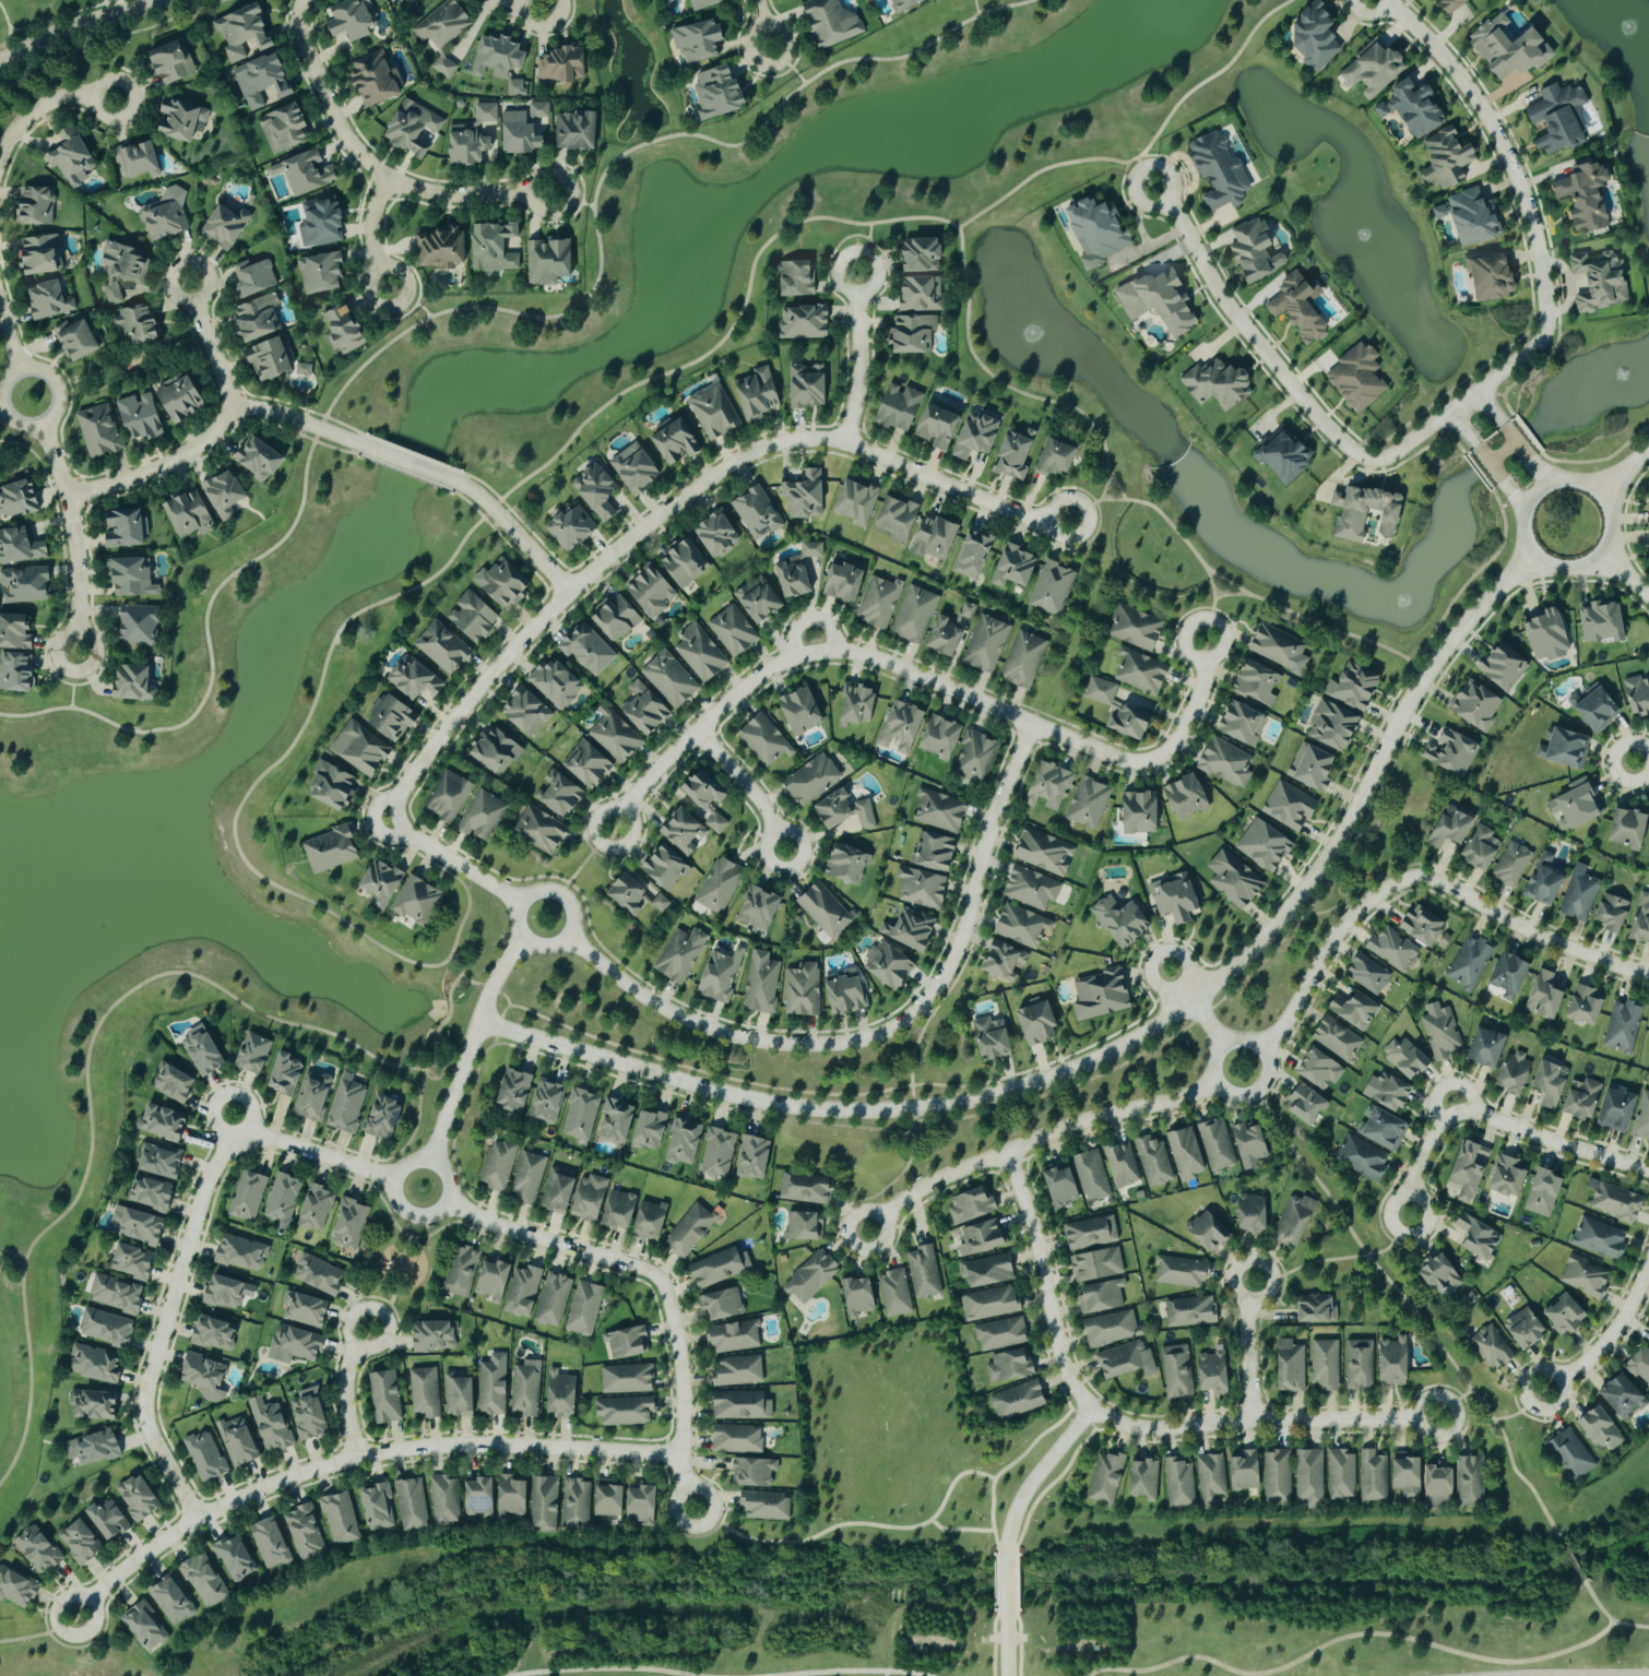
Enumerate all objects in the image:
building: (407, 0)
building: (704, 3)
building: (904, 3)
road: (519, 4)
building: (1454, 4)
road: (975, 7)
building: (352, 19)
building: (833, 22)
road: (762, 24)
road: (80, 25)
building: (244, 33)
building: (443, 33)
building: (1318, 37)
building: (699, 40)
building: (1511, 47)
building: (499, 57)
building: (173, 62)
road: (787, 63)
building: (563, 64)
building: (1375, 68)
building: (373, 79)
building: (262, 80)
building: (515, 87)
building: (720, 93)
road: (45, 105)
building: (1415, 107)
building: (486, 112)
building: (539, 117)
building: (1561, 117)
building: (181, 119)
building: (284, 128)
building: (414, 128)
building: (577, 130)
building: (521, 134)
building: (468, 144)
building: (72, 157)
building: (1449, 158)
building: (139, 161)
road: (372, 166)
building: (1220, 170)
building: (305, 173)
road: (1521, 187)
building: (1587, 194)
road: (572, 199)
building: (36, 205)
building: (165, 216)
building: (1472, 216)
building: (322, 223)
building: (228, 224)
building: (1100, 229)
road: (373, 235)
building: (442, 248)
building: (496, 248)
building: (1258, 250)
building: (41, 254)
building: (924, 254)
building: (549, 261)
building: (123, 269)
building: (321, 273)
building: (1494, 276)
building: (253, 277)
building: (798, 278)
building: (1602, 281)
building: (923, 294)
building: (50, 300)
road: (411, 300)
building: (1161, 300)
building: (1301, 306)
road: (471, 307)
building: (259, 318)
building: (805, 322)
building: (137, 324)
building: (343, 330)
building: (914, 333)
road: (9, 338)
building: (76, 338)
road: (859, 358)
building: (270, 359)
building: (302, 369)
road: (995, 377)
building: (1359, 378)
building: (1220, 383)
road: (2, 385)
road: (1293, 385)
building: (808, 387)
building: (759, 393)
building: (181, 397)
road: (1, 407)
building: (899, 408)
road: (1492, 408)
building: (714, 413)
building: (141, 417)
road: (296, 419)
building: (939, 427)
road: (1463, 429)
building: (99, 431)
road: (217, 433)
building: (977, 437)
building: (677, 441)
road: (1517, 442)
road: (563, 443)
building: (1017, 454)
building: (1284, 454)
building: (1058, 457)
building: (260, 459)
road: (407, 463)
road: (1488, 464)
building: (636, 468)
road: (1542, 472)
road: (1625, 473)
road: (1116, 485)
road: (1104, 486)
building: (597, 491)
building: (225, 494)
building: (806, 495)
road: (1515, 495)
building: (19, 499)
building: (858, 502)
road: (675, 506)
building: (1366, 512)
building: (758, 513)
building: (190, 514)
building: (898, 520)
road: (1523, 523)
road: (1173, 527)
building: (126, 528)
building: (571, 528)
building: (719, 534)
road: (76, 535)
road: (515, 535)
building: (937, 538)
building: (20, 547)
building: (975, 555)
building: (686, 562)
building: (1016, 567)
building: (800, 571)
road: (1626, 573)
building: (133, 578)
building: (845, 582)
building: (503, 583)
building: (25, 585)
building: (1054, 589)
building: (652, 591)
road: (1230, 593)
building: (758, 601)
building: (878, 602)
building: (968, 610)
building: (914, 615)
building: (473, 617)
building: (617, 618)
road: (1316, 623)
building: (1603, 623)
building: (140, 626)
building: (1137, 628)
building: (15, 631)
building: (732, 632)
building: (1550, 635)
building: (947, 638)
building: (986, 644)
building: (442, 647)
building: (1280, 649)
building: (588, 650)
building: (700, 654)
building: (1023, 659)
building: (1504, 667)
building: (1141, 671)
building: (16, 674)
building: (414, 679)
building: (671, 679)
road: (925, 679)
road: (72, 680)
building: (1257, 682)
building: (134, 684)
building: (557, 684)
building: (1356, 687)
building: (1101, 691)
building: (1639, 697)
building: (858, 703)
building: (1478, 705)
building: (1597, 706)
building: (645, 710)
building: (806, 710)
building: (526, 712)
building: (393, 717)
building: (1135, 722)
road: (1423, 722)
building: (1243, 723)
building: (902, 726)
building: (1336, 726)
building: (942, 737)
building: (615, 738)
building: (764, 740)
building: (361, 749)
building: (1566, 749)
building: (496, 751)
building: (1452, 752)
building: (976, 757)
building: (1226, 763)
building: (588, 764)
road: (1641, 764)
building: (1314, 766)
building: (812, 780)
building: (333, 786)
road: (750, 786)
building: (1051, 786)
building: (561, 795)
building: (449, 796)
building: (1187, 796)
building: (708, 799)
building: (1089, 803)
building: (1291, 807)
building: (1578, 807)
building: (846, 811)
building: (941, 811)
building: (1142, 813)
building: (483, 816)
building: (1630, 828)
building: (685, 829)
building: (541, 830)
building: (1452, 830)
building: (1265, 845)
building: (1482, 848)
building: (331, 849)
building: (1045, 852)
building: (936, 853)
road: (584, 859)
road: (1442, 859)
road: (453, 860)
road: (424, 861)
building: (847, 864)
building: (1511, 865)
building: (666, 868)
road: (1424, 878)
building: (1234, 880)
road: (1369, 881)
building: (1546, 881)
building: (382, 884)
building: (720, 885)
building: (922, 888)
building: (1032, 889)
building: (636, 894)
building: (1580, 894)
building: (1175, 899)
building: (418, 902)
building: (759, 910)
building: (824, 911)
building: (1614, 914)
road: (519, 918)
building: (1122, 920)
building: (1642, 922)
building: (1023, 927)
building: (1426, 927)
building: (912, 929)
road: (976, 939)
building: (1393, 950)
building: (680, 954)
building: (1006, 961)
building: (1471, 963)
building: (890, 965)
building: (1368, 974)
building: (721, 976)
building: (1512, 976)
building: (761, 983)
road: (487, 985)
building: (803, 990)
building: (847, 992)
building: (1103, 995)
building: (1546, 995)
building: (1589, 1006)
road: (1197, 1008)
building: (1357, 1010)
building: (1040, 1024)
building: (1624, 1026)
building: (1442, 1031)
road: (886, 1032)
building: (993, 1038)
building: (1338, 1039)
road: (1156, 1042)
road: (473, 1046)
building: (1488, 1048)
road: (1117, 1049)
building: (203, 1051)
building: (254, 1054)
building: (1407, 1059)
road: (428, 1061)
building: (1321, 1070)
road: (1008, 1072)
building: (1516, 1074)
building: (286, 1075)
road: (740, 1080)
road: (86, 1081)
road: (910, 1081)
building: (174, 1083)
building: (1552, 1085)
building: (1389, 1092)
building: (514, 1093)
road: (1239, 1095)
building: (313, 1096)
road: (225, 1098)
building: (1585, 1099)
building: (547, 1102)
building: (347, 1105)
building: (1307, 1105)
building: (1618, 1112)
building: (581, 1115)
road: (752, 1116)
building: (383, 1118)
building: (1642, 1119)
building: (617, 1122)
building: (163, 1124)
building: (1383, 1128)
road: (1035, 1140)
road: (1550, 1140)
building: (685, 1142)
building: (1251, 1142)
building: (1201, 1150)
building: (717, 1153)
road: (319, 1154)
road: (1423, 1157)
building: (755, 1158)
building: (1362, 1158)
building: (161, 1162)
building: (1154, 1162)
building: (498, 1165)
building: (1122, 1166)
building: (1470, 1170)
building: (1092, 1176)
building: (527, 1177)
building: (1509, 1177)
building: (1061, 1185)
building: (806, 1189)
building: (558, 1191)
building: (1545, 1193)
building: (152, 1194)
building: (247, 1197)
road: (395, 1197)
building: (591, 1198)
building: (282, 1201)
building: (1618, 1203)
building: (972, 1207)
building: (316, 1209)
building: (620, 1211)
road: (850, 1211)
building: (1254, 1215)
building: (650, 1222)
building: (1295, 1222)
building: (138, 1224)
building: (349, 1225)
building: (803, 1227)
building: (689, 1231)
building: (1091, 1233)
building: (1210, 1233)
building: (983, 1238)
building: (1480, 1239)
building: (1600, 1239)
building: (241, 1252)
road: (1338, 1257)
building: (133, 1261)
building: (1098, 1265)
building: (720, 1268)
building: (988, 1271)
building: (462, 1272)
building: (924, 1272)
building: (1182, 1273)
building: (319, 1274)
building: (1440, 1275)
building: (1586, 1275)
building: (811, 1277)
building: (495, 1281)
road: (662, 1282)
building: (228, 1291)
building: (523, 1292)
building: (117, 1294)
building: (894, 1294)
building: (859, 1297)
building: (1102, 1297)
building: (554, 1299)
building: (989, 1304)
building: (722, 1305)
building: (585, 1308)
building: (305, 1309)
building: (1318, 1309)
road: (1413, 1309)
building: (1191, 1311)
building: (1566, 1316)
building: (107, 1327)
road: (165, 1329)
building: (1112, 1329)
building: (1527, 1329)
building: (215, 1333)
building: (1000, 1334)
building: (435, 1335)
building: (734, 1338)
road: (1608, 1342)
building: (295, 1344)
building: (626, 1344)
building: (1493, 1346)
road: (1249, 1352)
building: (1125, 1360)
building: (1396, 1362)
building: (95, 1363)
building: (1326, 1364)
building: (1360, 1364)
building: (1640, 1364)
building: (1293, 1366)
building: (1010, 1367)
building: (738, 1371)
building: (1177, 1371)
building: (205, 1377)
building: (627, 1379)
building: (493, 1384)
building: (526, 1388)
building: (425, 1391)
road: (345, 1392)
building: (460, 1394)
building: (562, 1394)
building: (385, 1395)
building: (1018, 1399)
road: (1455, 1401)
building: (95, 1404)
building: (742, 1405)
road: (1520, 1410)
building: (625, 1411)
building: (310, 1413)
building: (271, 1424)
road: (1126, 1427)
building: (1602, 1430)
building: (737, 1438)
building: (238, 1440)
building: (93, 1447)
building: (1570, 1454)
building: (205, 1455)
road: (356, 1458)
building: (1246, 1470)
building: (754, 1471)
road: (1042, 1472)
building: (1342, 1474)
building: (1278, 1475)
building: (1374, 1475)
building: (1410, 1475)
building: (1107, 1476)
building: (1310, 1476)
building: (1211, 1477)
building: (1146, 1478)
building: (1471, 1481)
building: (1181, 1482)
building: (1442, 1485)
building: (512, 1496)
building: (139, 1497)
building: (481, 1497)
building: (610, 1498)
building: (444, 1499)
building: (577, 1501)
building: (412, 1503)
building: (545, 1503)
building: (767, 1505)
building: (377, 1506)
building: (642, 1506)
building: (109, 1519)
building: (340, 1519)
building: (305, 1532)
building: (81, 1541)
building: (271, 1543)
building: (38, 1548)
road: (1570, 1557)
building: (235, 1558)
road: (1006, 1578)
building: (204, 1580)
building: (16, 1588)
building: (171, 1600)
road: (1608, 1614)
building: (144, 1626)
road: (1348, 1635)
road: (25, 1639)
road: (1006, 1643)
road: (886, 1673)
road: (719, 1675)
road: (1564, 1675)
road: (1594, 1675)

